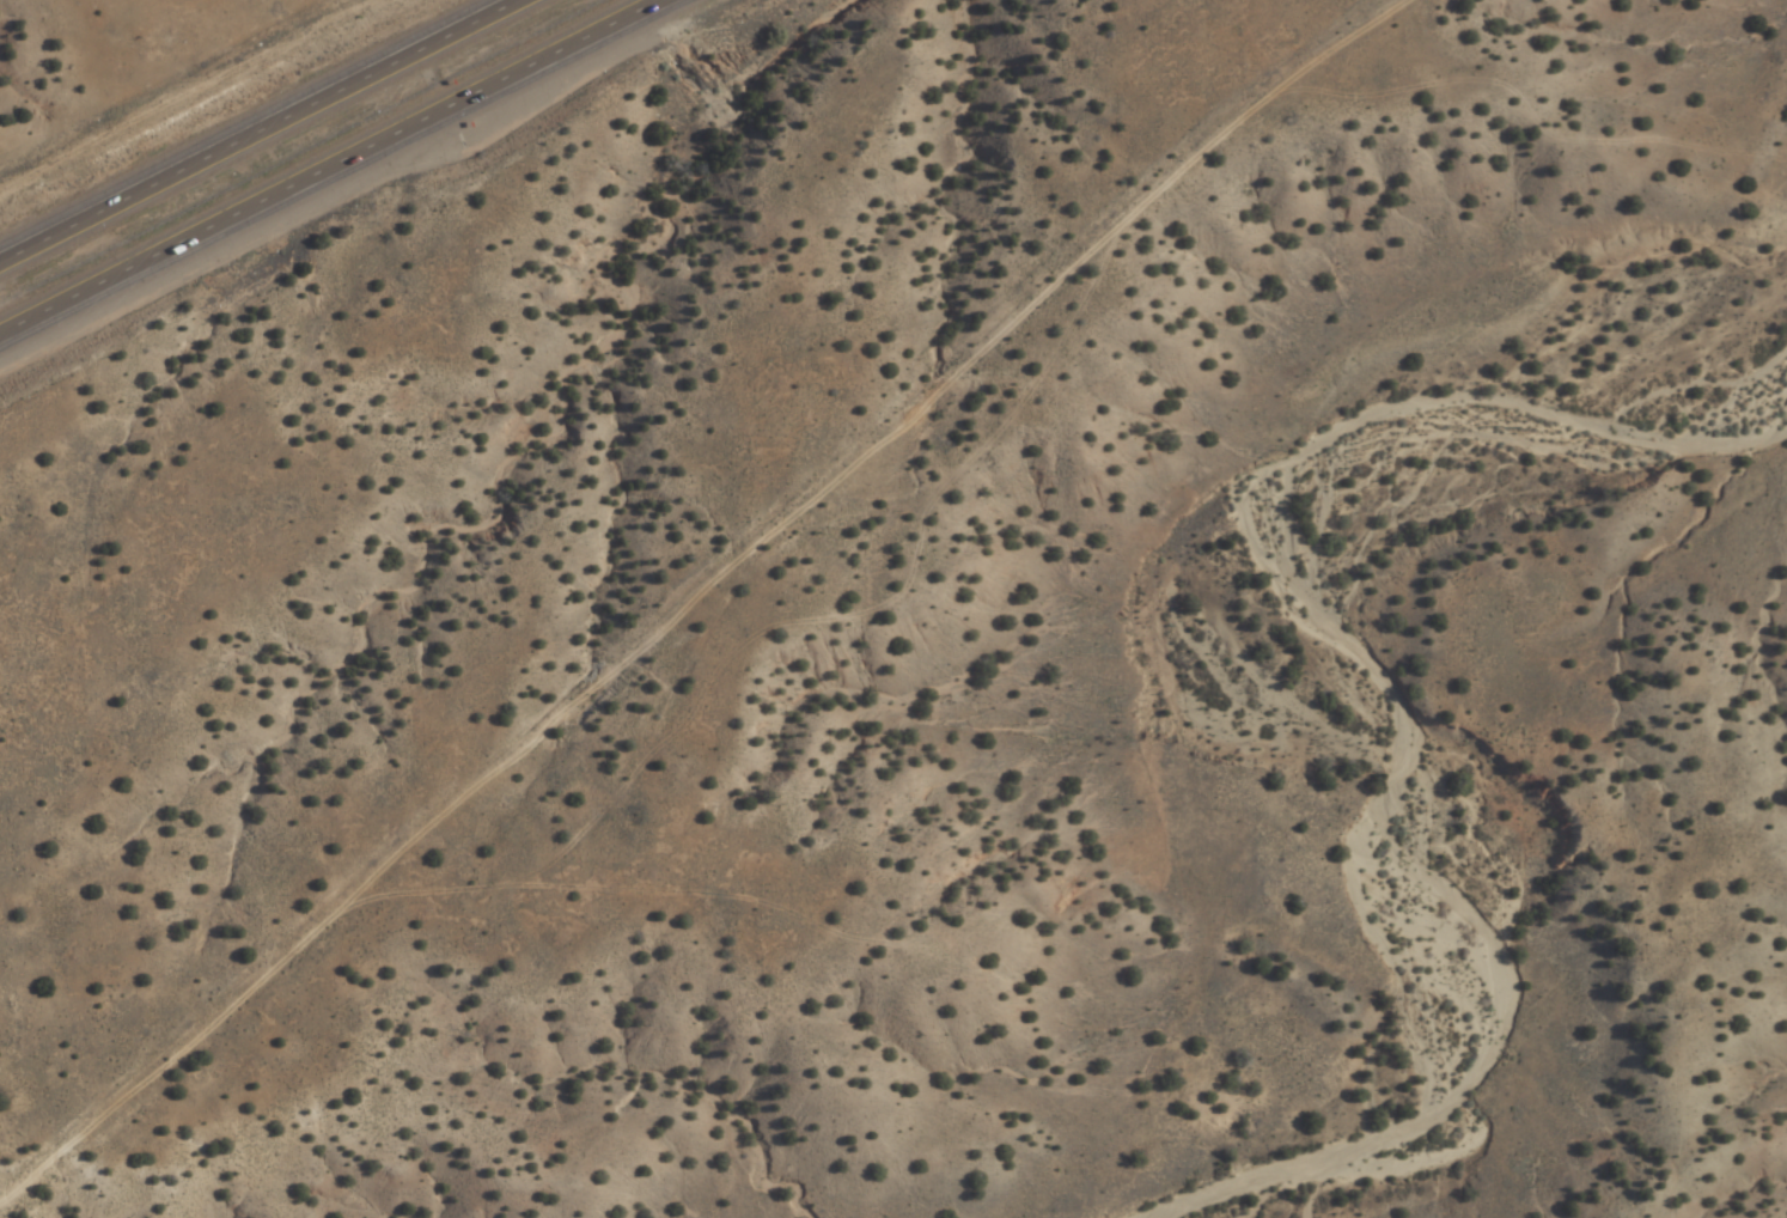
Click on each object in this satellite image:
road: (264, 133)
road: (325, 164)

